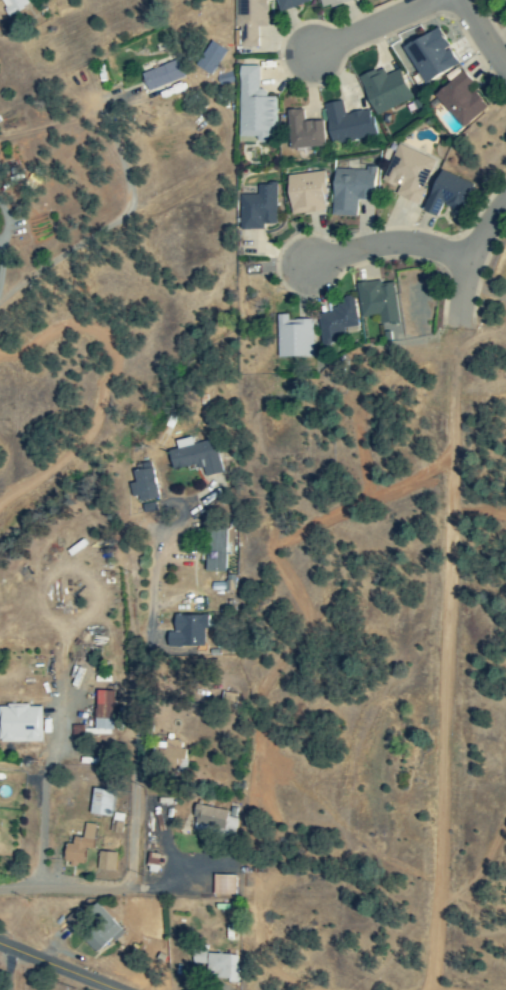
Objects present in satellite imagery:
building: (330, 3)
building: (288, 4)
building: (13, 6)
building: (248, 22)
road: (373, 27)
road: (482, 34)
building: (428, 57)
building: (208, 59)
building: (160, 76)
building: (382, 90)
building: (458, 100)
building: (253, 107)
building: (346, 124)
building: (302, 132)
building: (406, 174)
road: (125, 184)
building: (349, 190)
building: (304, 194)
building: (445, 194)
building: (257, 207)
building: (404, 208)
road: (391, 243)
road: (473, 257)
building: (377, 301)
building: (336, 322)
building: (293, 338)
building: (194, 457)
building: (143, 484)
building: (214, 551)
building: (188, 632)
building: (102, 713)
building: (19, 725)
road: (136, 750)
building: (168, 757)
road: (42, 792)
building: (100, 803)
building: (211, 821)
building: (78, 846)
building: (104, 862)
building: (150, 863)
building: (222, 885)
building: (74, 919)
building: (100, 931)
road: (56, 967)
building: (221, 967)

